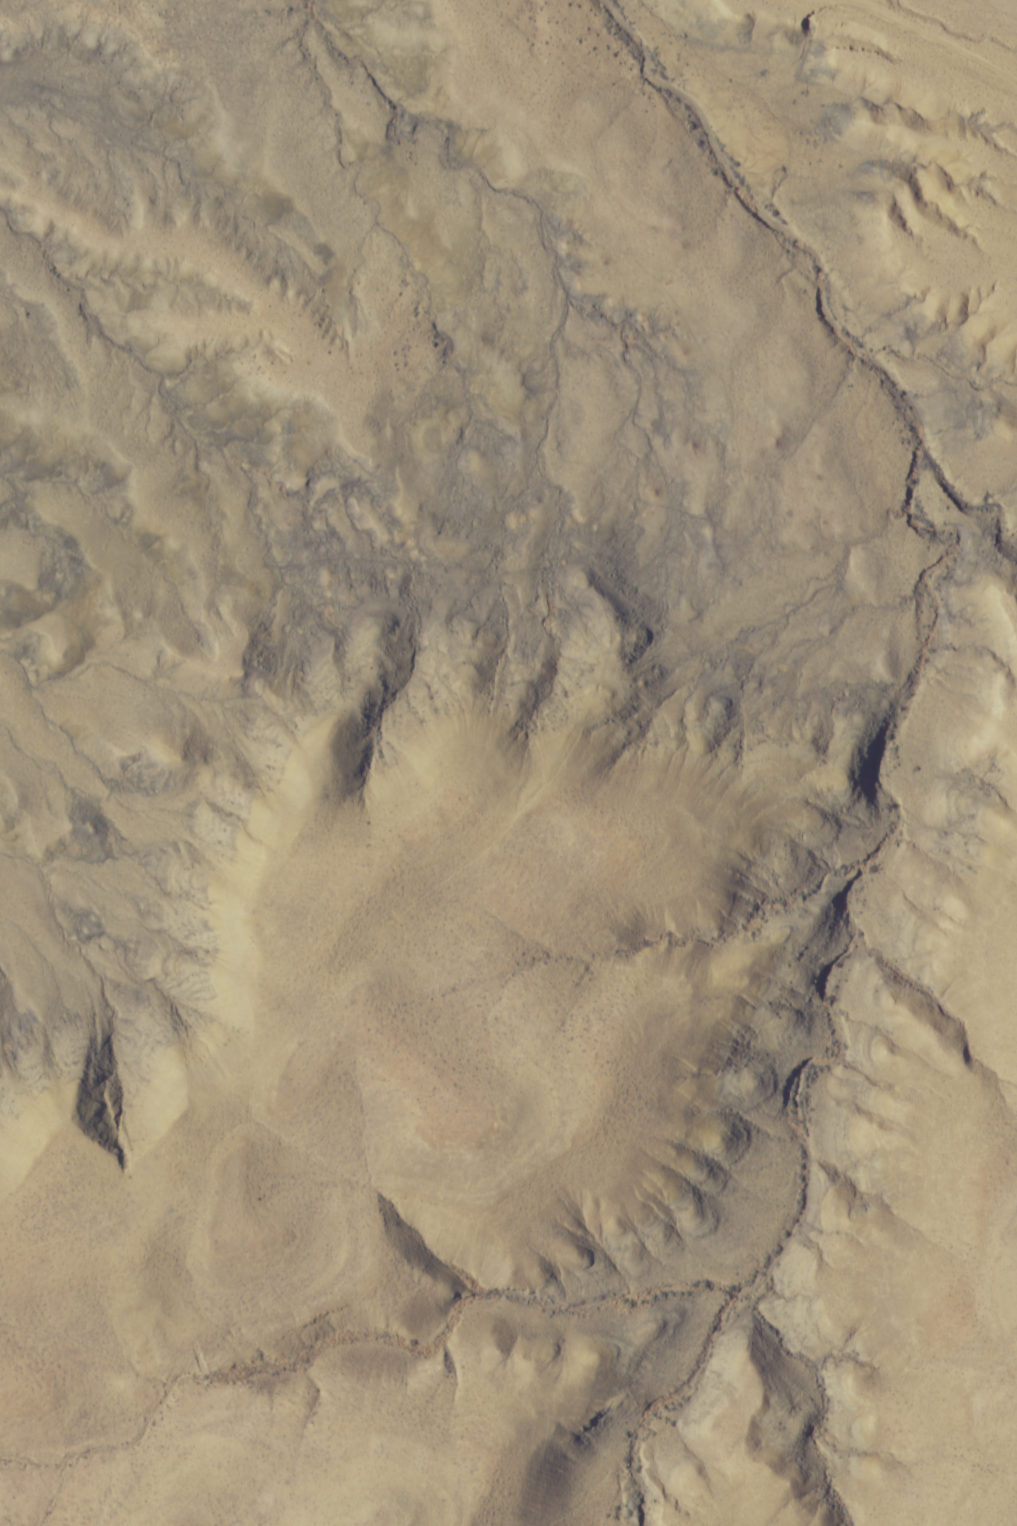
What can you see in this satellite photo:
road: (919, 35)

